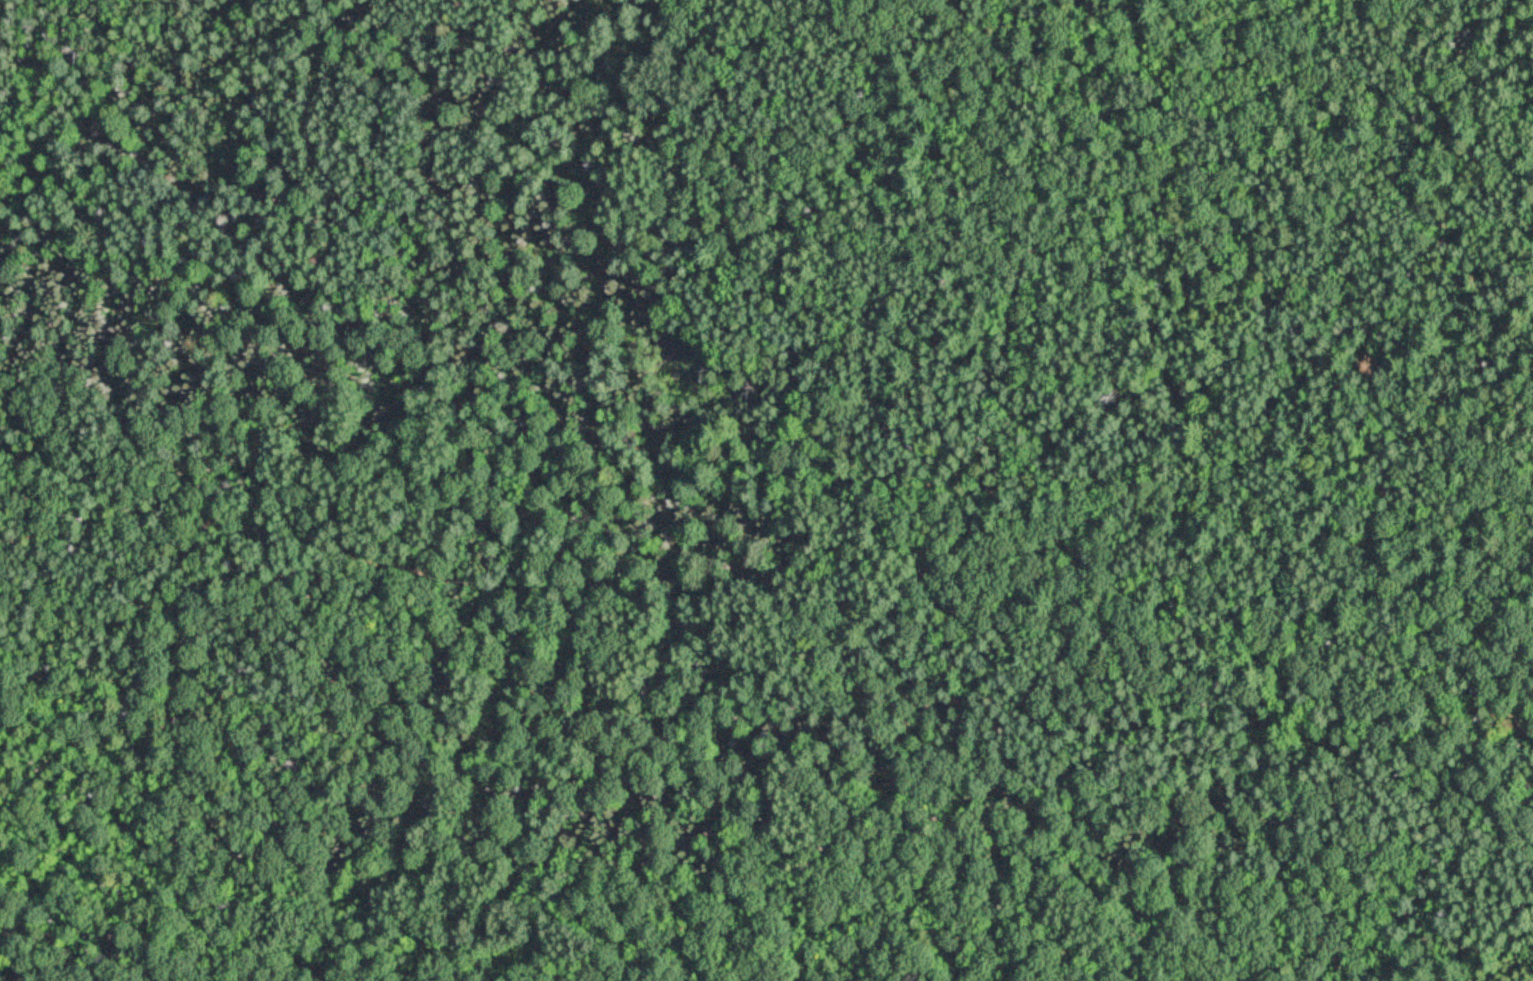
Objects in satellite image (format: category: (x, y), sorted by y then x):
park: (766, 490)
road: (247, 532)

